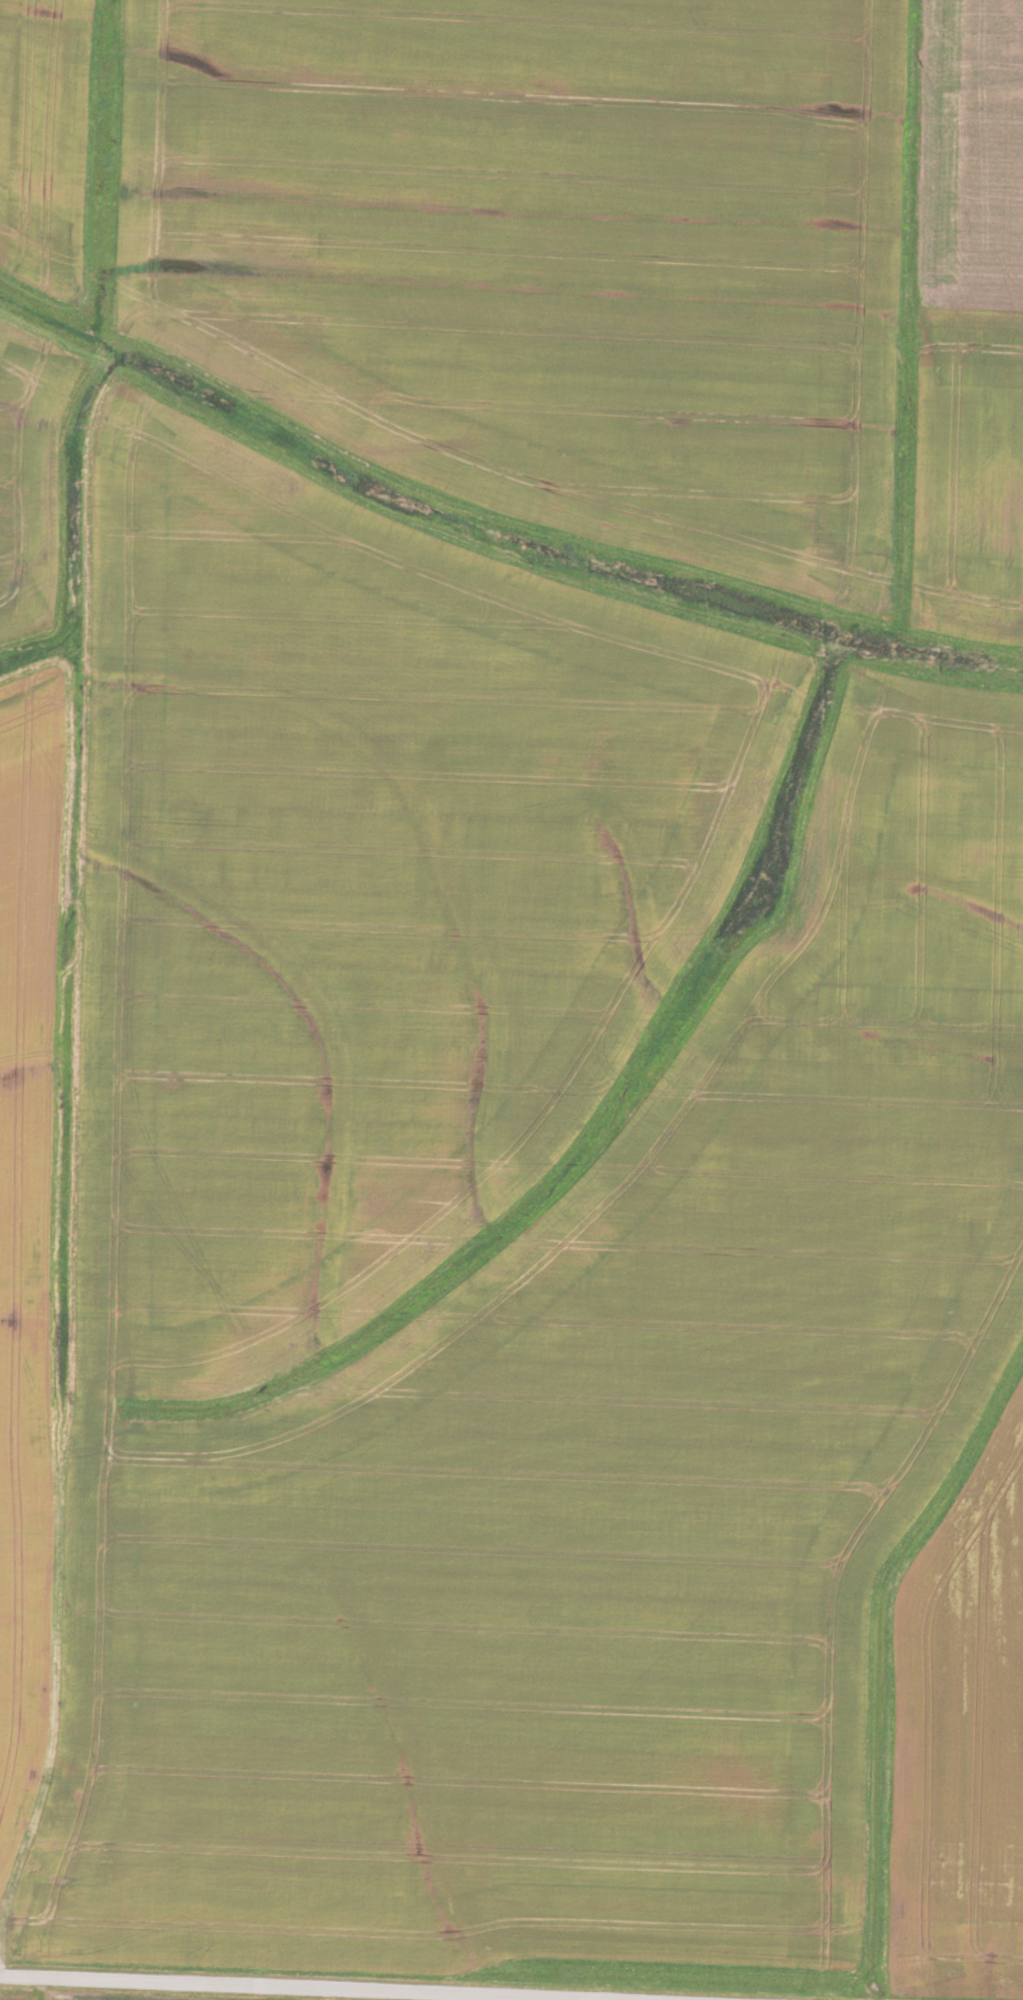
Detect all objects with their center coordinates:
road: (332, 1986)

